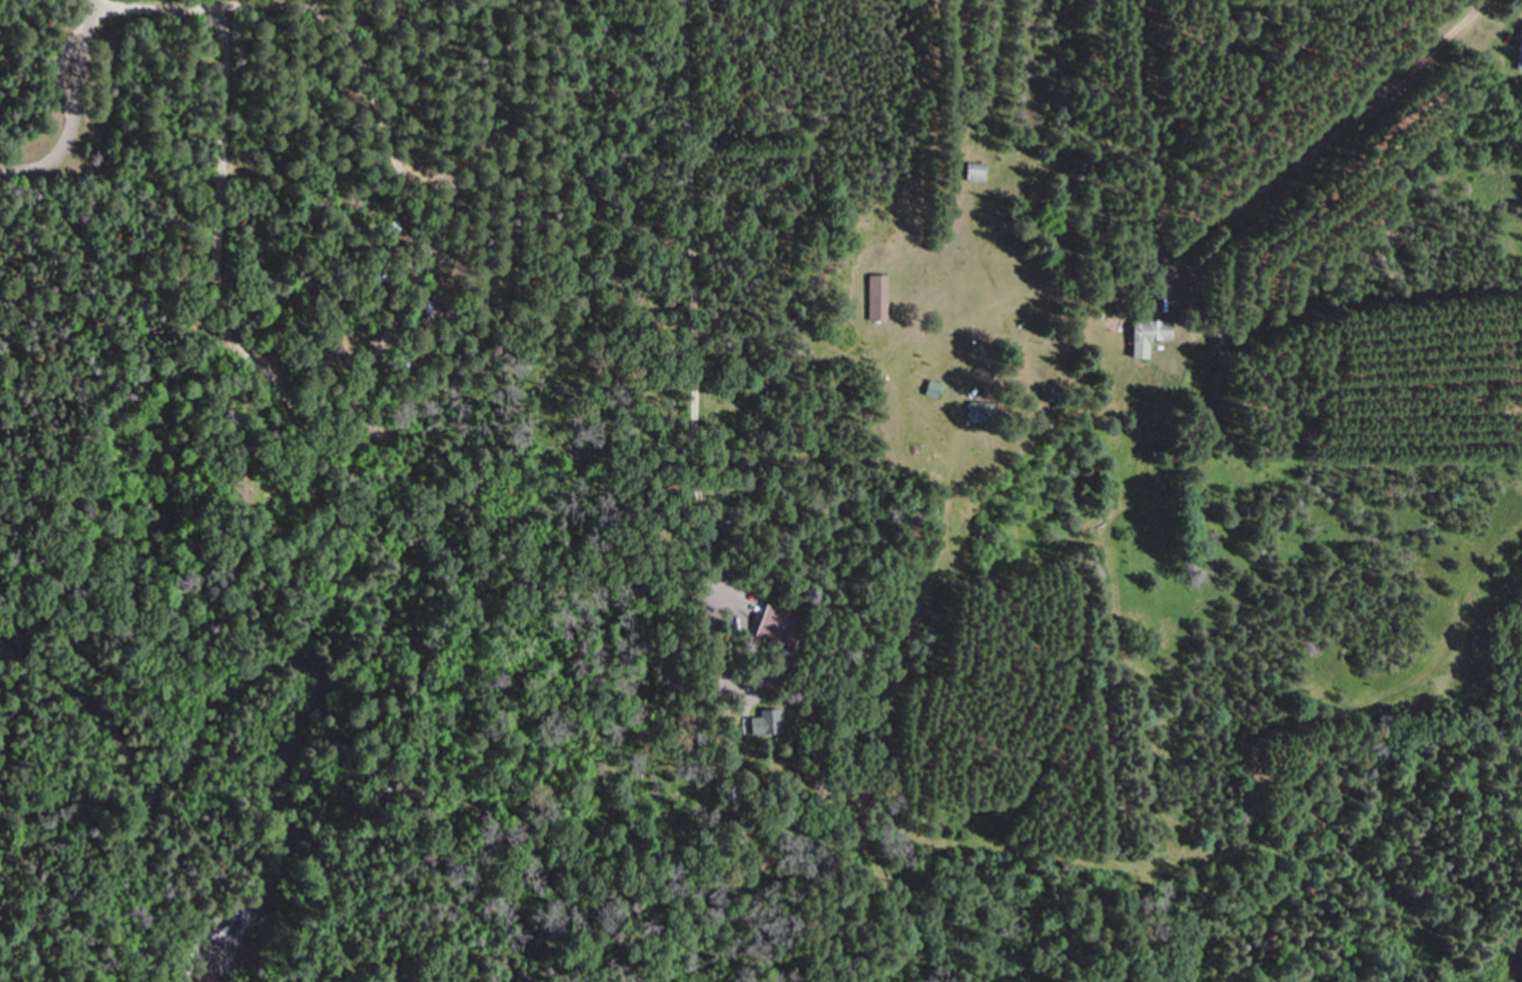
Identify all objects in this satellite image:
road: (158, 10)
road: (406, 107)
road: (73, 108)
building: (977, 172)
road: (998, 245)
building: (878, 297)
road: (687, 330)
building: (1147, 335)
building: (978, 410)
park: (348, 491)
building: (774, 620)
river: (284, 660)
building: (768, 722)
river: (3, 731)
river: (1518, 968)

